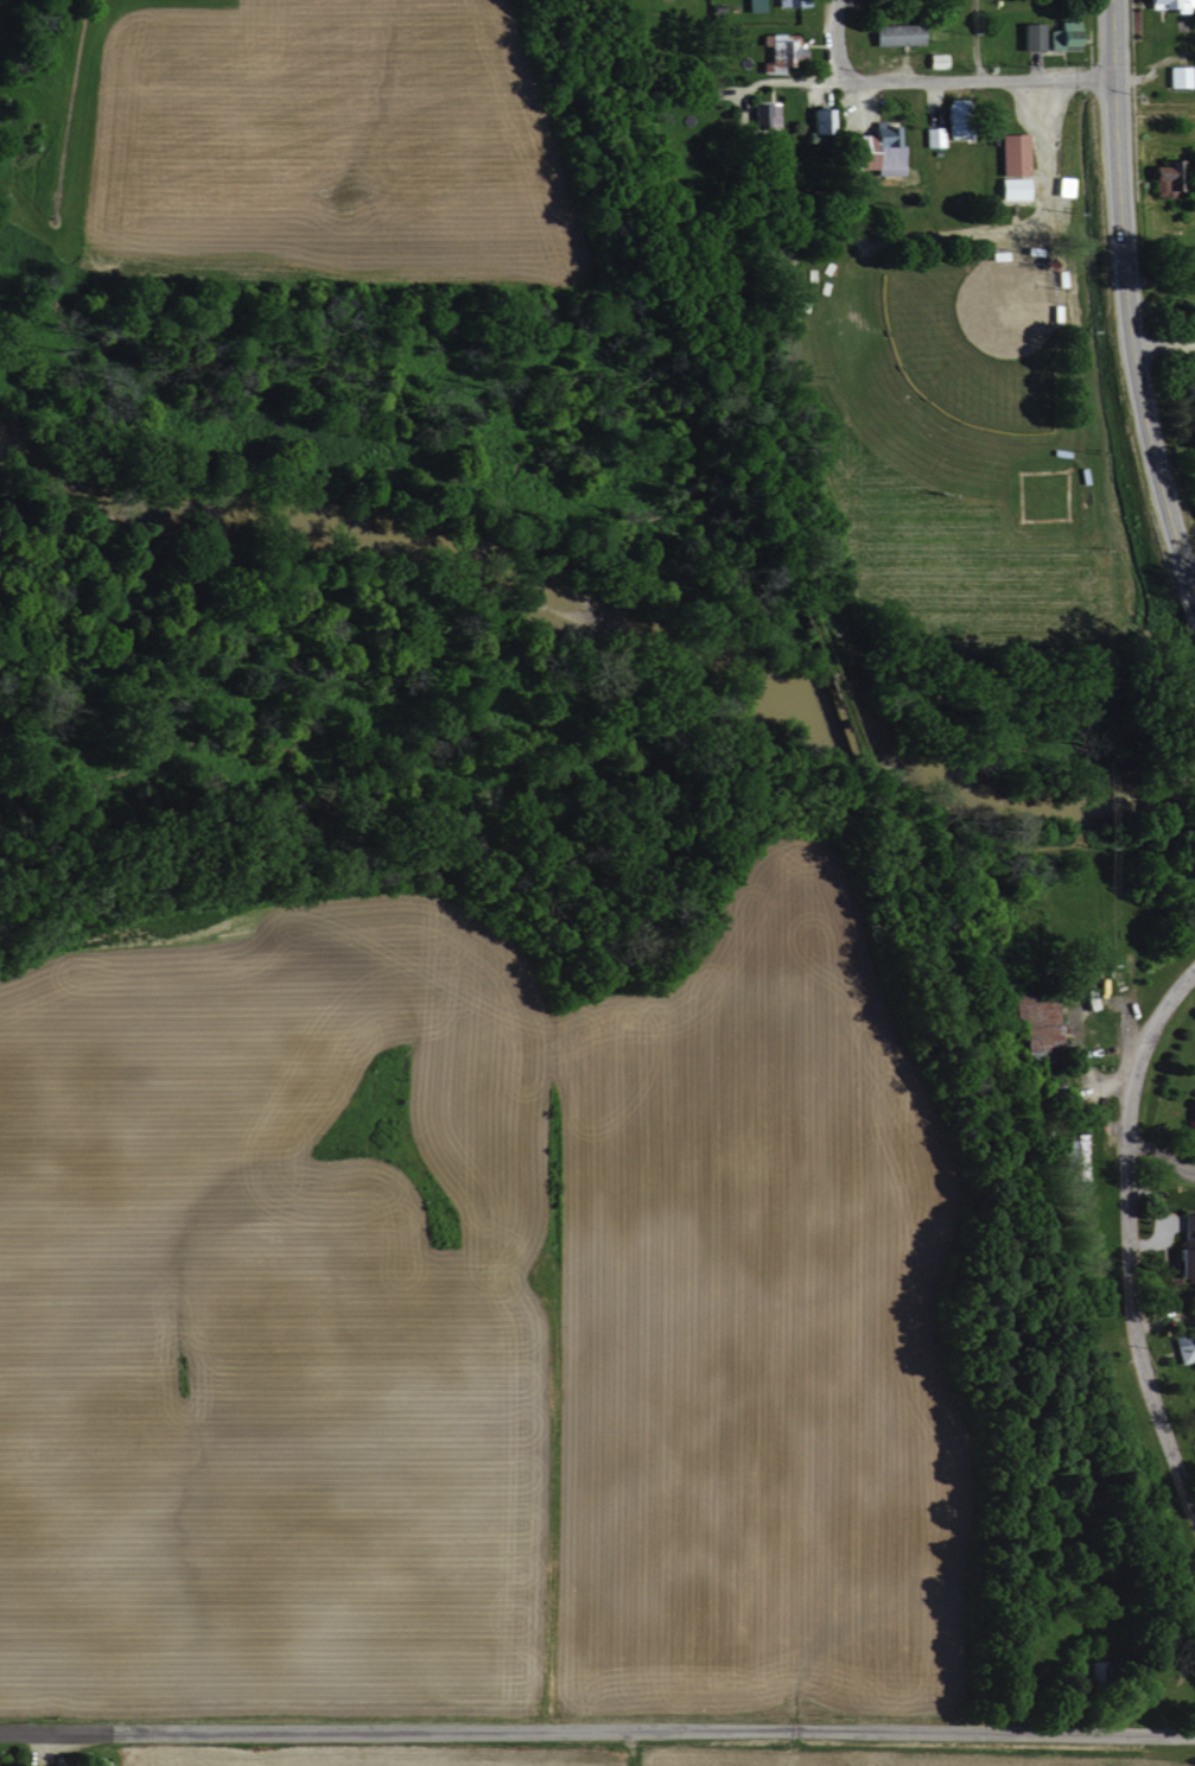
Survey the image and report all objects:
building: (1171, 4)
building: (749, 5)
building: (890, 33)
building: (1026, 34)
building: (1060, 34)
road: (973, 39)
road: (829, 43)
building: (776, 51)
building: (933, 59)
building: (1174, 75)
road: (980, 78)
road: (797, 84)
building: (948, 97)
building: (762, 115)
building: (816, 119)
building: (929, 135)
building: (1008, 153)
road: (1047, 176)
building: (1163, 176)
building: (1061, 185)
road: (1114, 185)
building: (1008, 186)
road: (1159, 344)
road: (1157, 495)
building: (1124, 960)
building: (1035, 1023)
building: (1190, 1127)
building: (1073, 1152)
road: (1124, 1245)
building: (1178, 1263)
building: (1182, 1346)
road: (597, 1730)

